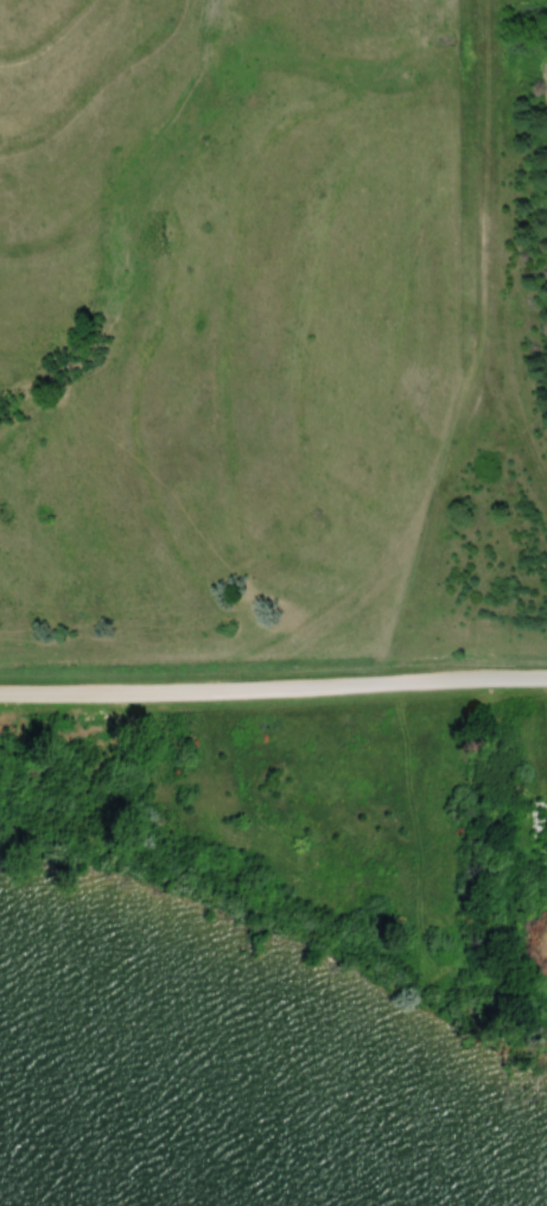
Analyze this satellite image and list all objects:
road: (273, 687)
park: (272, 927)

